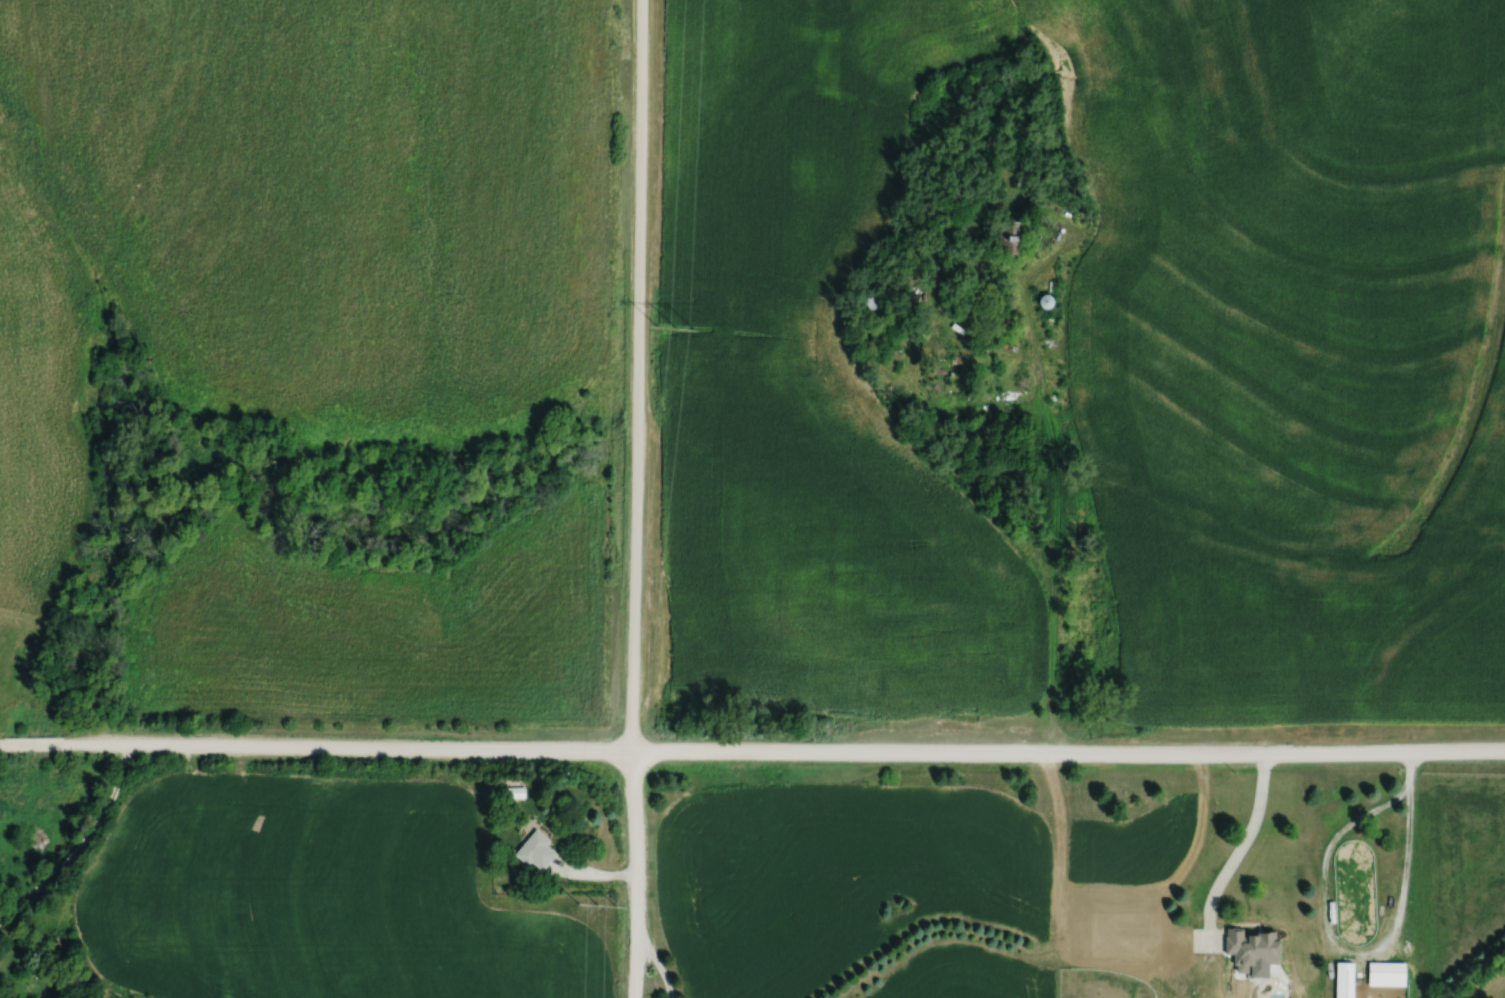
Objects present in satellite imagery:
building: (1009, 237)
building: (952, 247)
power tower: (682, 326)
road: (636, 499)
road: (752, 754)
building: (513, 792)
road: (81, 849)
building: (533, 851)
road: (1240, 855)
power tower: (597, 905)
building: (1250, 948)
road: (1350, 950)
road: (661, 969)
building: (1384, 973)
building: (1342, 979)

